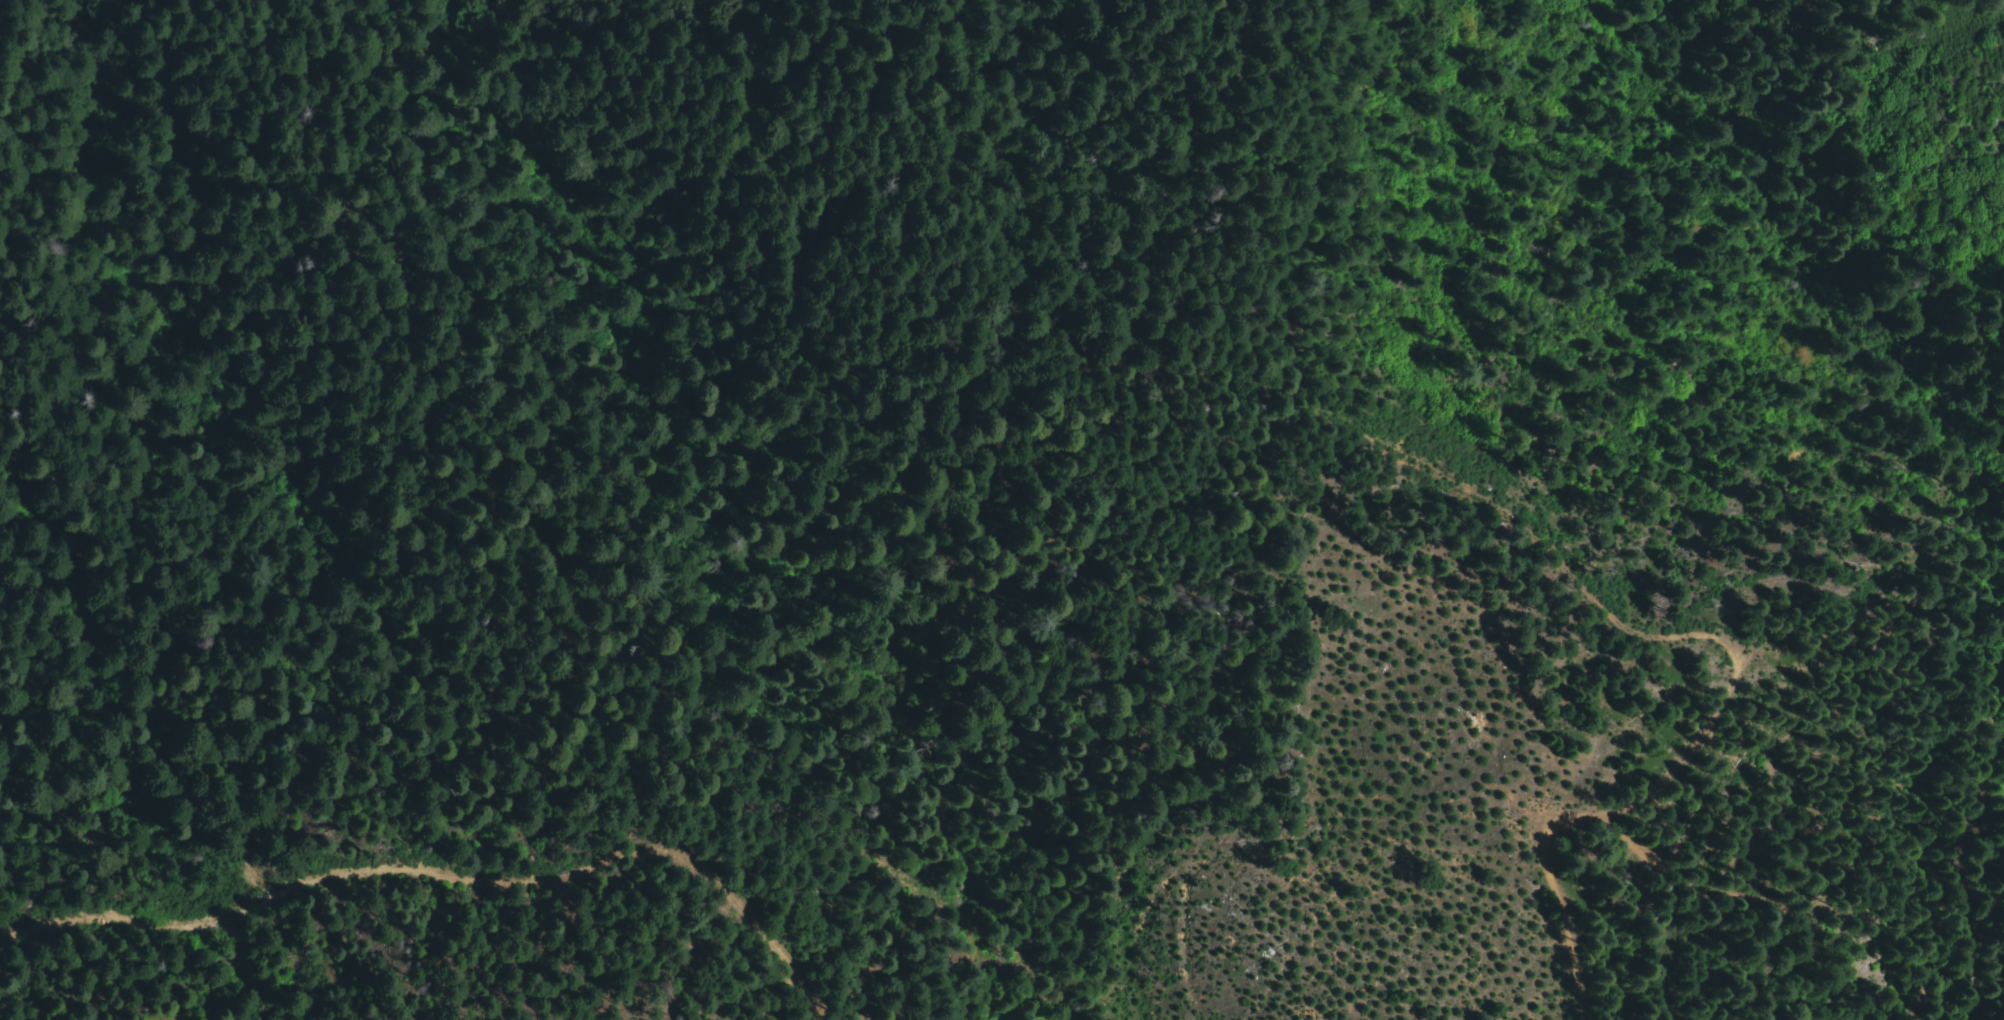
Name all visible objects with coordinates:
road: (1990, 23)
road: (1634, 837)
road: (507, 880)
road: (1975, 905)

